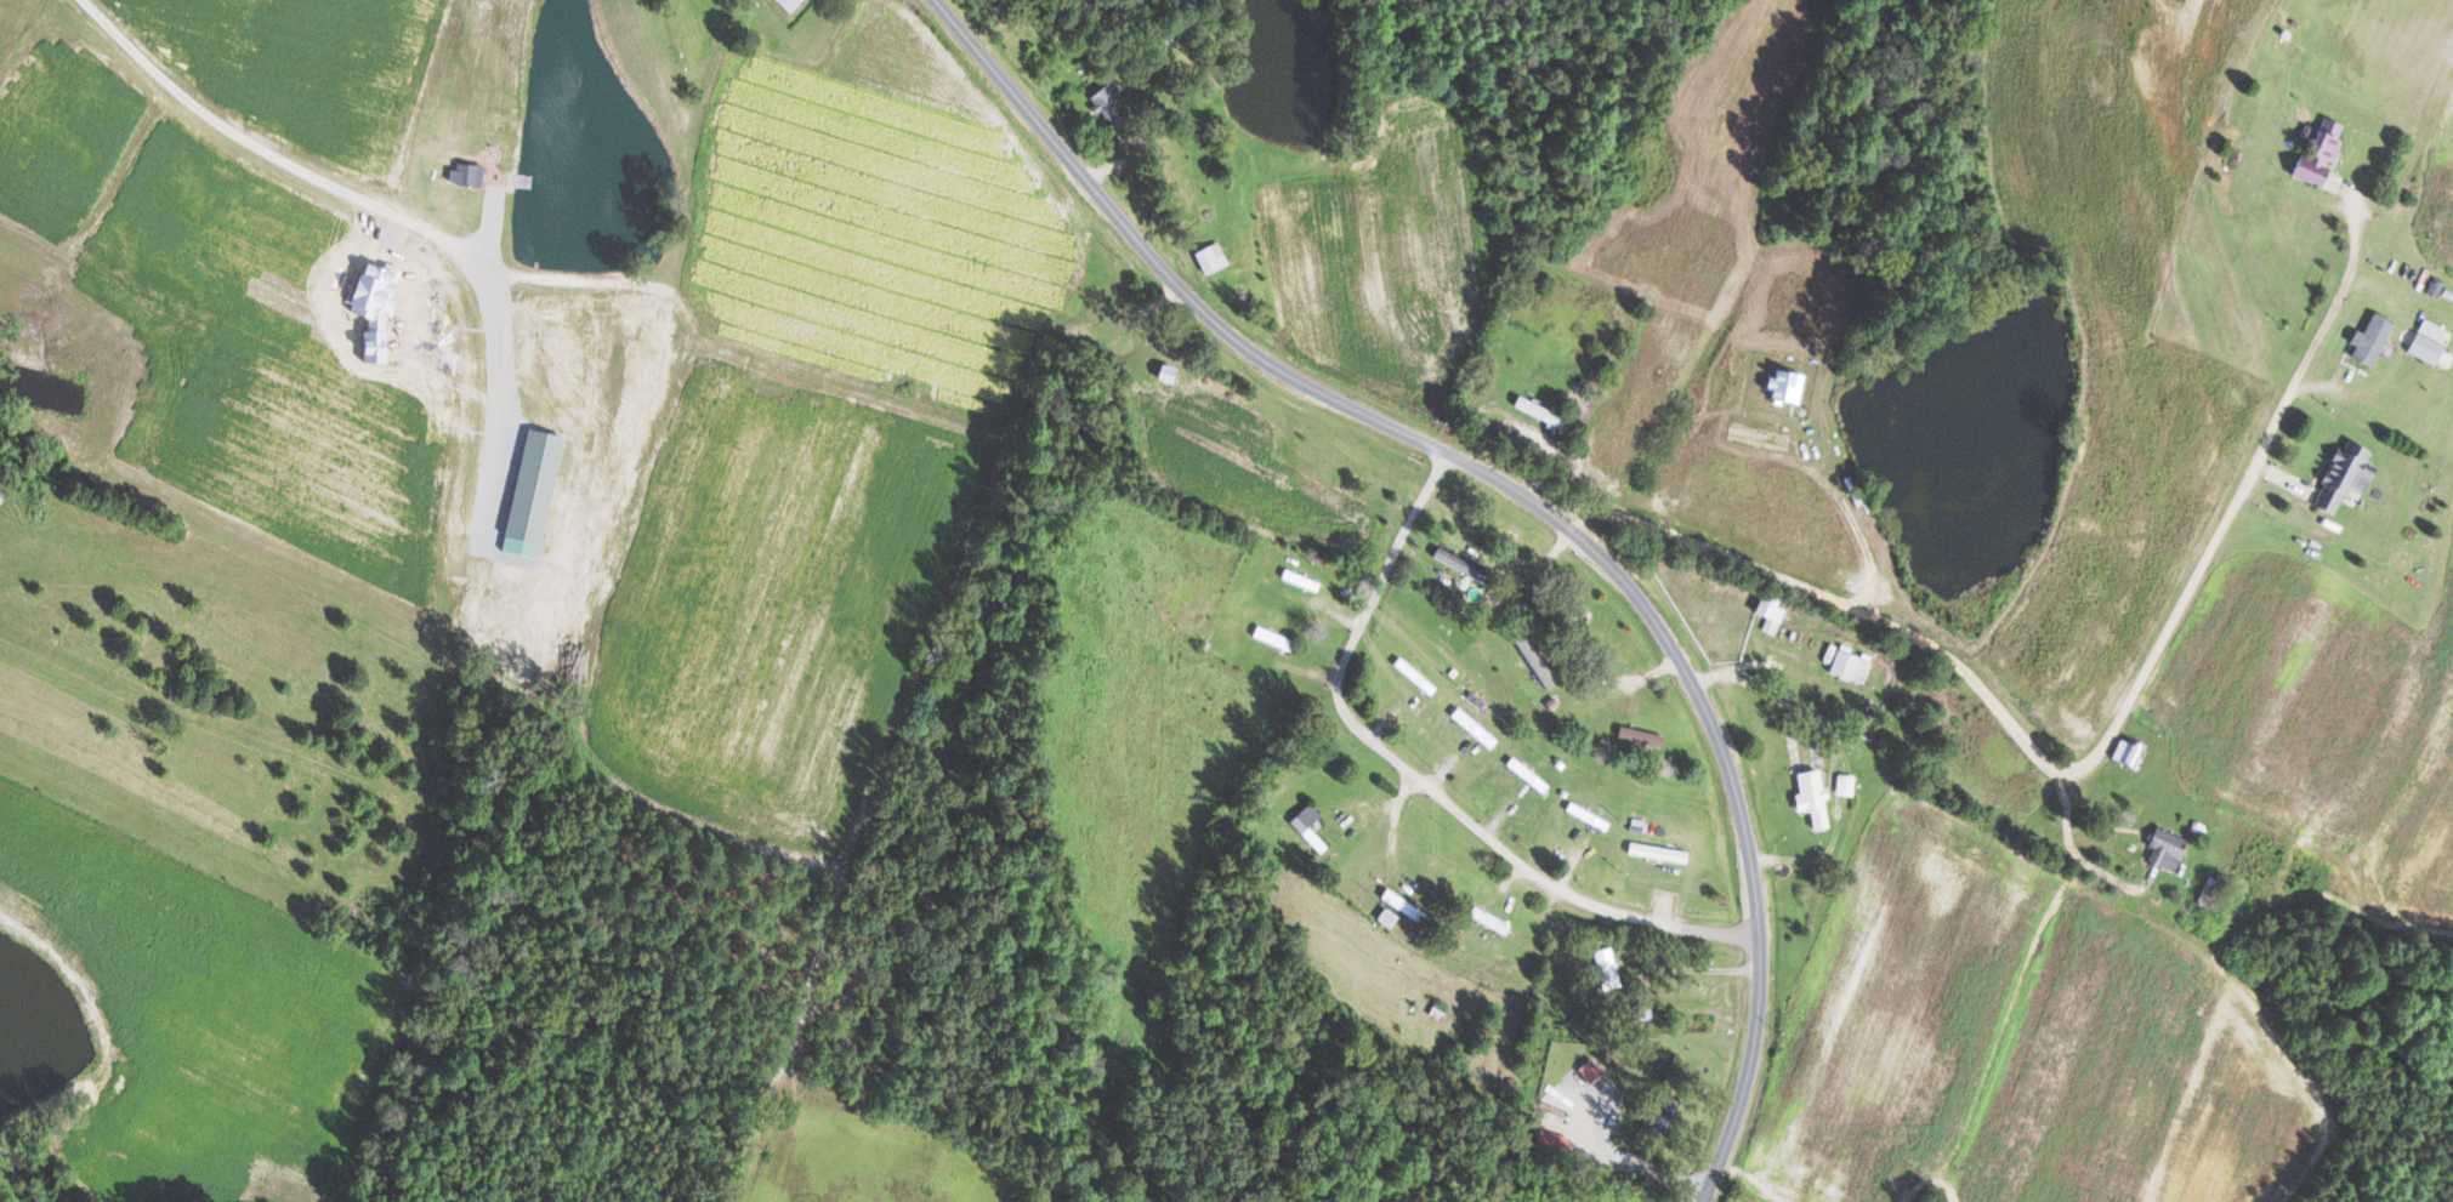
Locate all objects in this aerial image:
building: (787, 4)
building: (1107, 99)
building: (2316, 153)
building: (464, 173)
road: (388, 213)
building: (1208, 258)
building: (527, 323)
building: (2368, 340)
building: (2424, 348)
building: (1534, 410)
building: (2341, 474)
building: (528, 486)
road: (1524, 499)
road: (1844, 501)
building: (1455, 563)
building: (1767, 611)
building: (1534, 659)
building: (1849, 665)
building: (1475, 730)
building: (1637, 735)
road: (1835, 751)
building: (2124, 752)
road: (2086, 769)
building: (1844, 785)
road: (1416, 786)
building: (1808, 798)
building: (1306, 826)
road: (2073, 849)
building: (2163, 849)
building: (1649, 851)
building: (1605, 968)
road: (1677, 972)
building: (1584, 1072)
building: (1549, 1143)
road: (1630, 1162)

